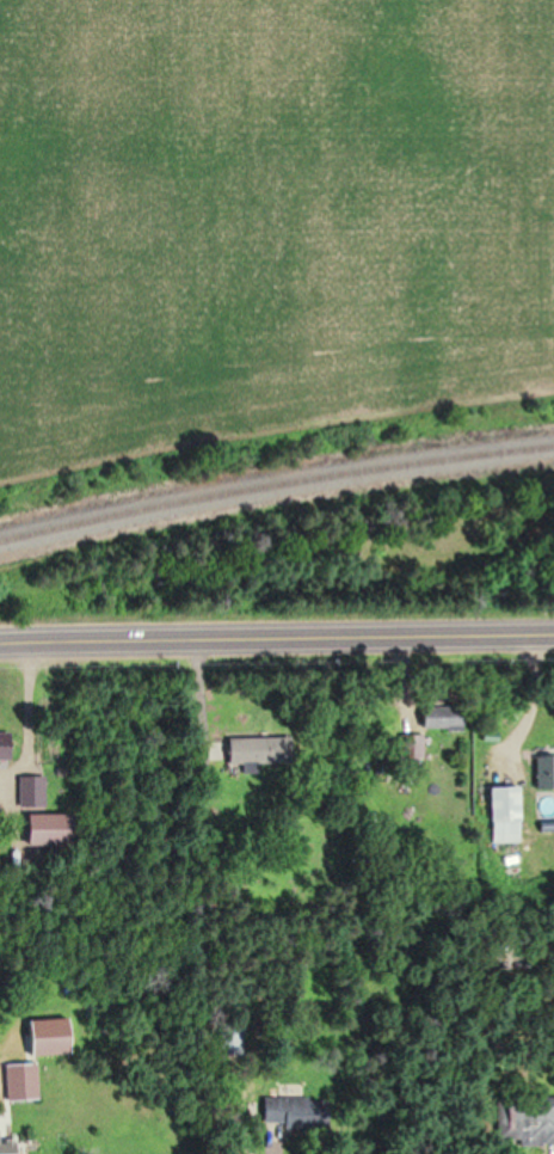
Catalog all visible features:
road: (517, 208)
airport: (267, 219)
road: (313, 327)
railway: (275, 483)
road: (276, 637)
building: (438, 723)
building: (410, 747)
building: (256, 750)
building: (4, 751)
building: (546, 771)
building: (31, 791)
building: (501, 815)
building: (45, 830)
building: (232, 1038)
building: (19, 1081)
building: (278, 1111)
building: (528, 1121)
building: (5, 1147)

